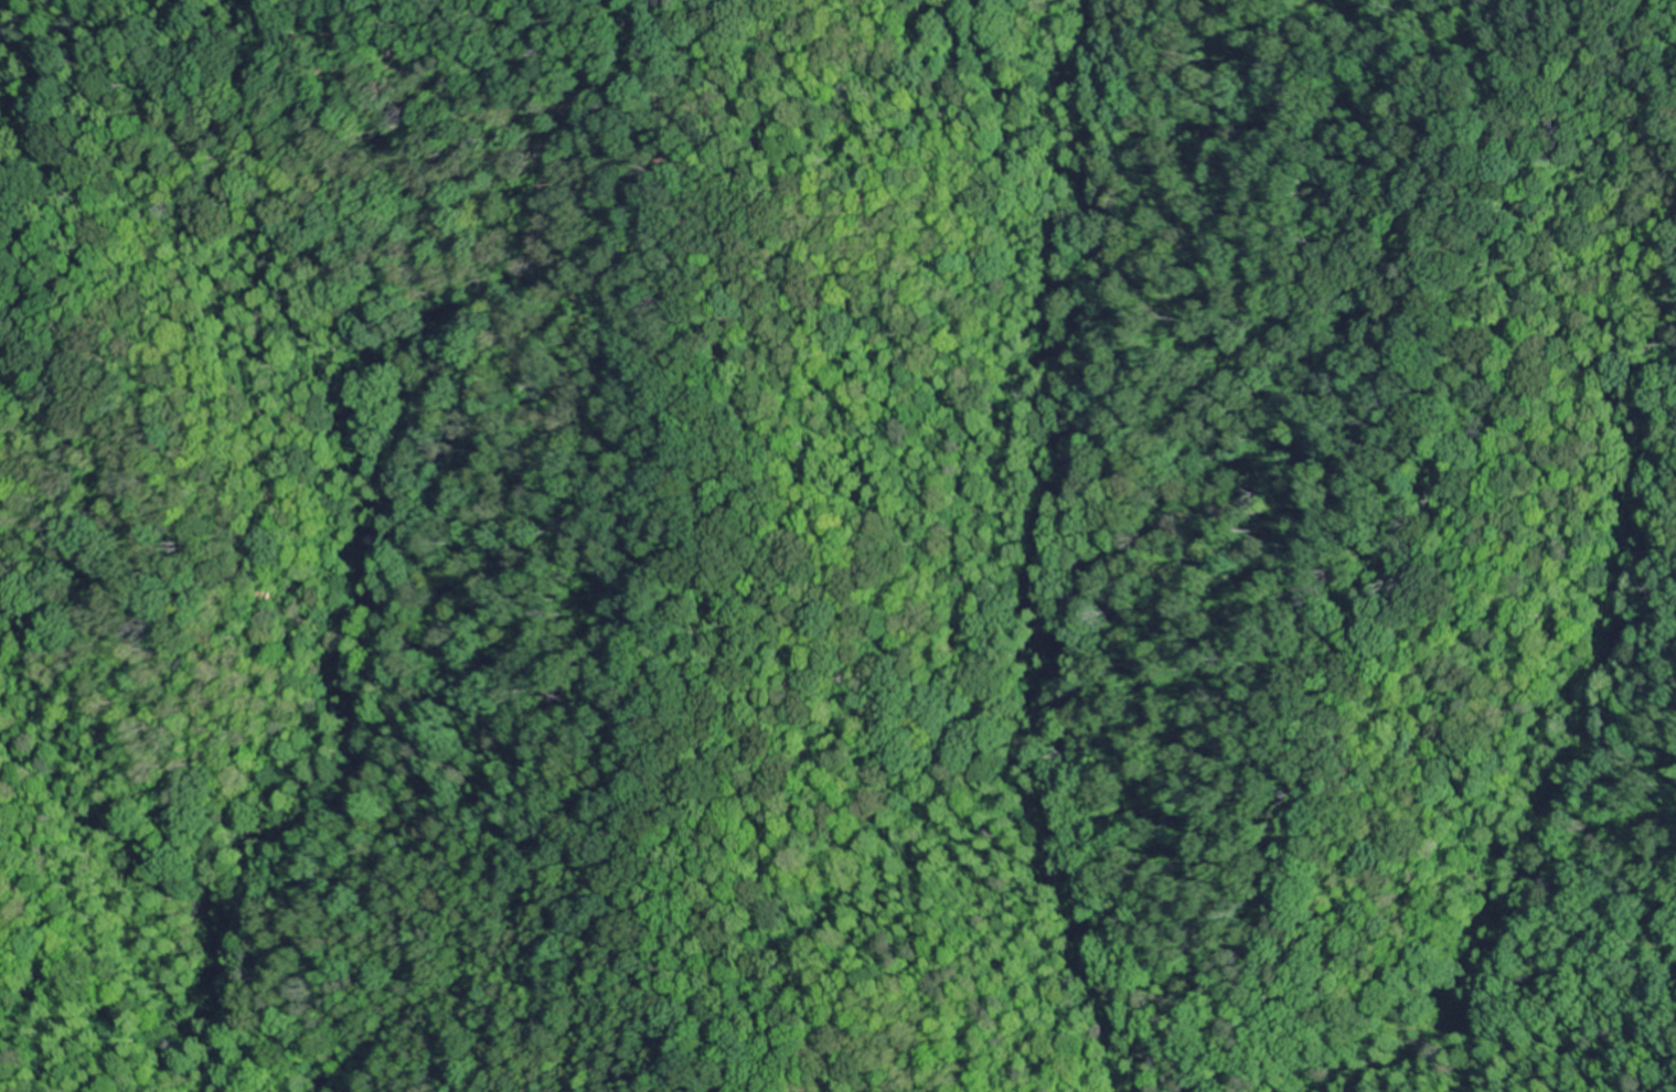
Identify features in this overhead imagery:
road: (209, 986)
road: (1356, 1045)

